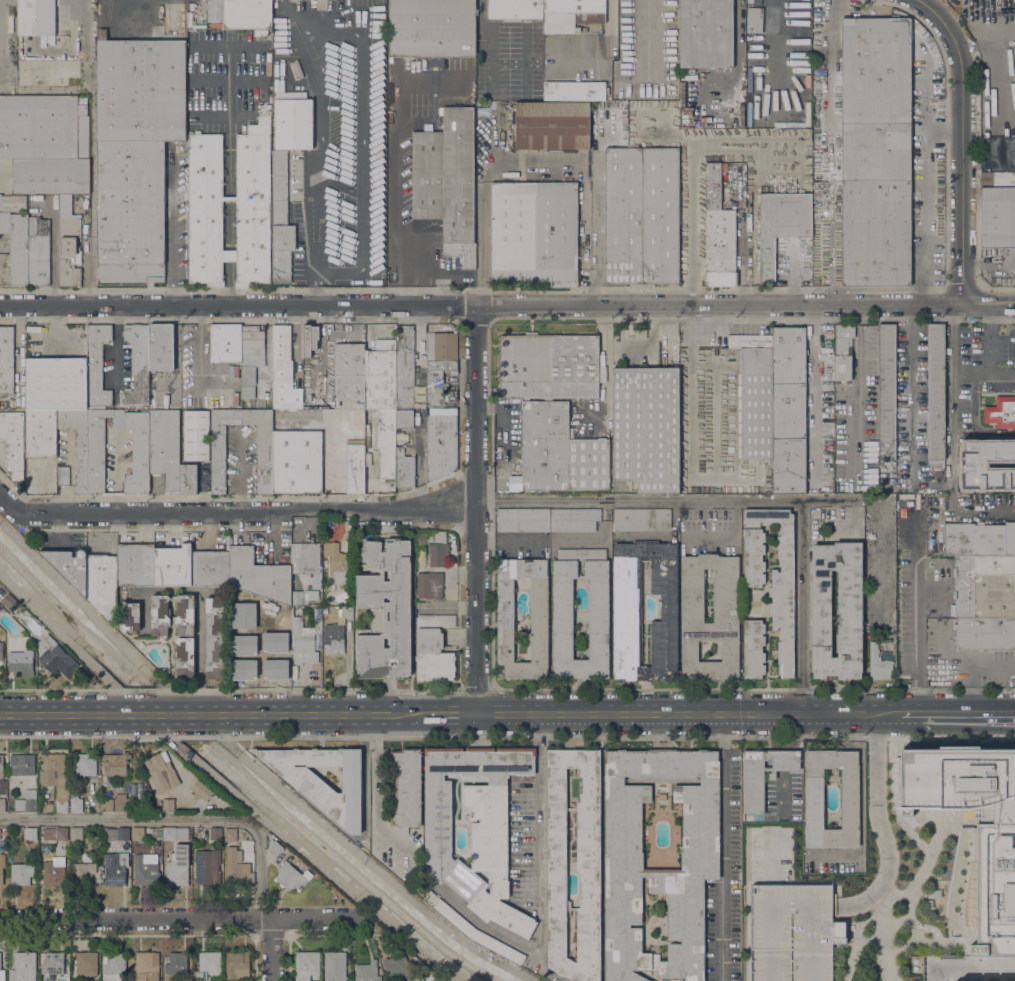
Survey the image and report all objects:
building: (754, 2)
building: (514, 9)
building: (247, 14)
building: (572, 15)
building: (36, 17)
building: (754, 20)
building: (431, 28)
building: (260, 32)
building: (705, 34)
road: (831, 65)
building: (294, 69)
road: (989, 87)
building: (575, 91)
building: (290, 95)
building: (293, 124)
building: (552, 125)
road: (364, 129)
building: (46, 143)
road: (960, 144)
road: (320, 145)
road: (89, 152)
building: (875, 152)
building: (135, 153)
road: (1003, 159)
road: (976, 161)
road: (530, 171)
building: (998, 179)
building: (447, 181)
building: (253, 192)
building: (12, 203)
road: (689, 209)
road: (597, 212)
building: (641, 216)
building: (998, 216)
building: (280, 220)
road: (174, 224)
building: (780, 227)
building: (535, 232)
building: (718, 233)
building: (68, 243)
building: (15, 245)
building: (38, 251)
road: (315, 288)
road: (1008, 302)
road: (981, 303)
road: (480, 304)
road: (989, 336)
building: (309, 339)
building: (226, 343)
road: (116, 345)
road: (199, 345)
building: (251, 352)
building: (843, 352)
road: (17, 353)
building: (6, 359)
building: (439, 363)
building: (137, 365)
building: (550, 366)
building: (405, 369)
road: (982, 370)
building: (283, 371)
building: (349, 376)
building: (248, 392)
building: (886, 392)
road: (998, 392)
building: (935, 393)
building: (755, 395)
building: (382, 400)
building: (72, 409)
building: (788, 410)
building: (442, 411)
building: (1001, 412)
building: (404, 419)
road: (974, 419)
building: (154, 423)
building: (645, 427)
building: (196, 435)
road: (335, 435)
building: (402, 438)
building: (13, 442)
building: (440, 446)
building: (559, 451)
building: (297, 461)
building: (264, 462)
building: (355, 469)
building: (404, 469)
road: (114, 473)
road: (240, 473)
building: (63, 475)
building: (188, 479)
road: (934, 484)
building: (967, 484)
road: (669, 498)
road: (479, 509)
road: (970, 513)
road: (235, 515)
road: (734, 517)
building: (523, 519)
building: (574, 519)
building: (642, 519)
road: (663, 536)
building: (979, 539)
road: (601, 541)
building: (432, 549)
building: (307, 561)
building: (336, 562)
building: (135, 564)
building: (172, 565)
building: (325, 565)
building: (70, 566)
building: (209, 567)
building: (258, 575)
building: (102, 584)
building: (429, 585)
building: (985, 585)
building: (781, 592)
building: (725, 595)
building: (303, 596)
building: (259, 598)
building: (9, 601)
road: (802, 605)
road: (911, 605)
building: (243, 606)
road: (447, 607)
building: (626, 607)
building: (0, 609)
building: (283, 611)
building: (385, 611)
building: (160, 612)
building: (346, 612)
building: (849, 613)
building: (130, 617)
road: (98, 619)
building: (537, 619)
building: (985, 631)
building: (562, 633)
building: (0, 637)
building: (304, 637)
building: (334, 637)
building: (214, 638)
building: (260, 645)
building: (890, 645)
road: (73, 646)
building: (433, 648)
building: (1, 650)
building: (55, 656)
building: (184, 657)
building: (21, 661)
building: (878, 664)
road: (972, 668)
road: (969, 713)
road: (557, 714)
road: (76, 717)
road: (172, 717)
building: (22, 764)
building: (85, 764)
building: (115, 764)
building: (1, 766)
building: (161, 772)
building: (955, 777)
building: (55, 779)
building: (406, 789)
building: (203, 791)
building: (318, 791)
road: (378, 795)
building: (754, 796)
building: (849, 798)
building: (25, 801)
building: (75, 803)
building: (120, 803)
building: (2, 804)
building: (166, 804)
building: (46, 805)
building: (107, 805)
road: (174, 818)
road: (880, 823)
building: (475, 827)
building: (54, 833)
building: (76, 833)
building: (117, 833)
building: (138, 833)
building: (158, 833)
building: (175, 833)
building: (215, 833)
building: (30, 834)
building: (230, 835)
road: (724, 847)
building: (274, 848)
road: (302, 850)
road: (540, 853)
road: (362, 857)
building: (26, 860)
building: (624, 860)
building: (587, 864)
building: (1, 866)
building: (178, 866)
building: (207, 866)
building: (115, 868)
building: (237, 868)
building: (146, 869)
building: (53, 871)
building: (21, 873)
building: (83, 873)
building: (291, 877)
building: (984, 890)
road: (174, 917)
road: (482, 927)
building: (472, 929)
building: (791, 932)
road: (272, 948)
building: (178, 963)
building: (85, 964)
building: (208, 964)
building: (237, 964)
building: (51, 965)
building: (113, 965)
building: (146, 966)
building: (306, 966)
building: (335, 966)
building: (23, 967)
building: (398, 968)
road: (972, 968)
building: (367, 972)
building: (2, 975)

